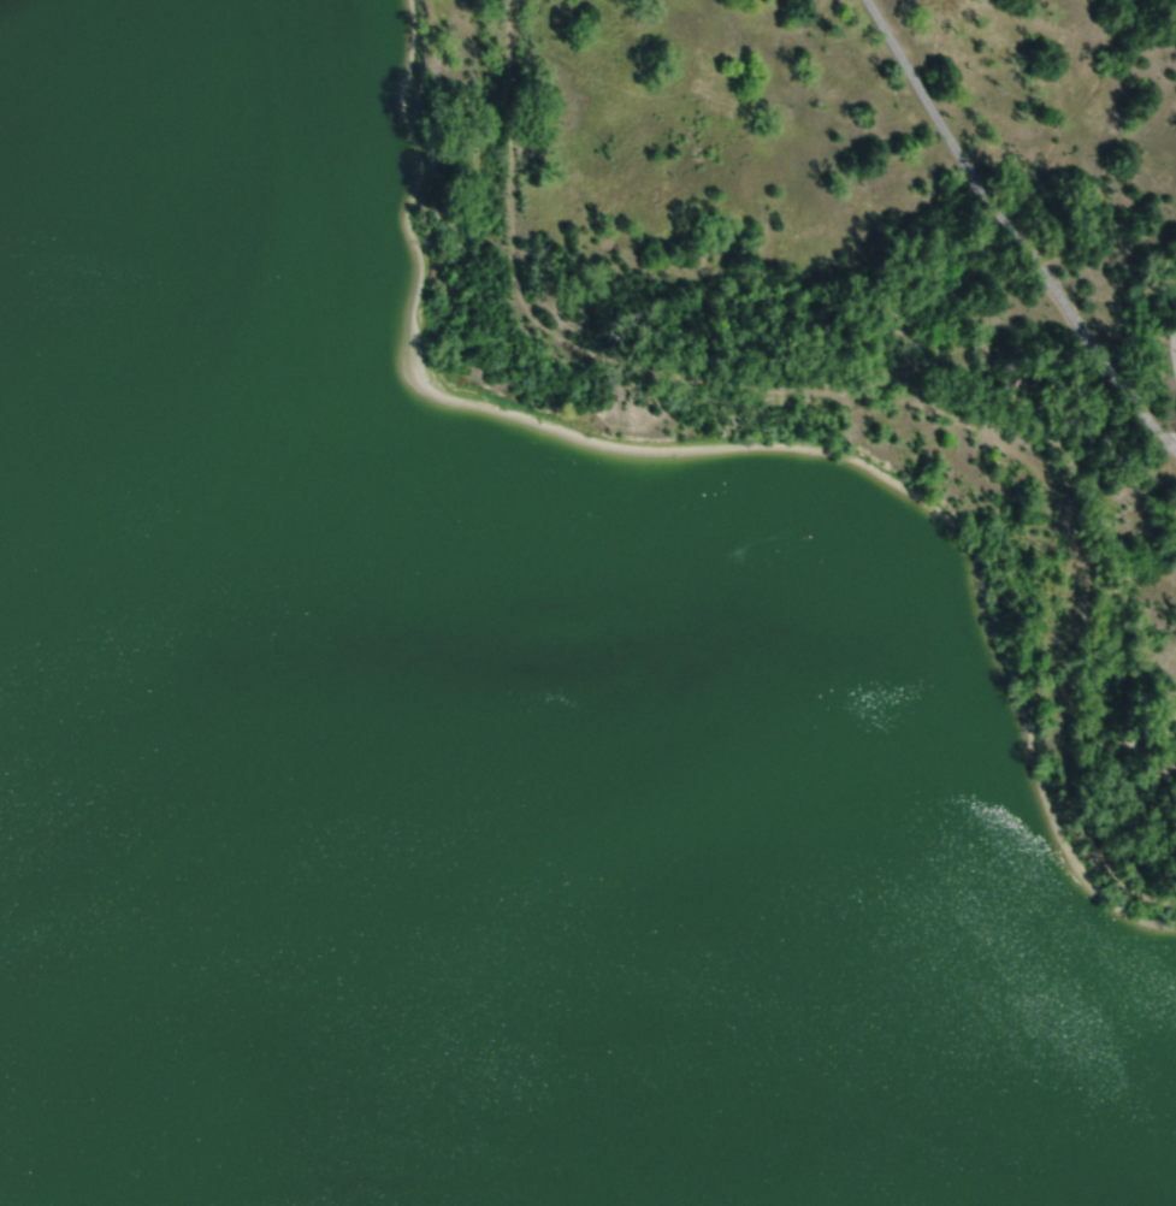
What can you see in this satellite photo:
road: (1011, 230)
road: (1168, 339)
road: (874, 395)

